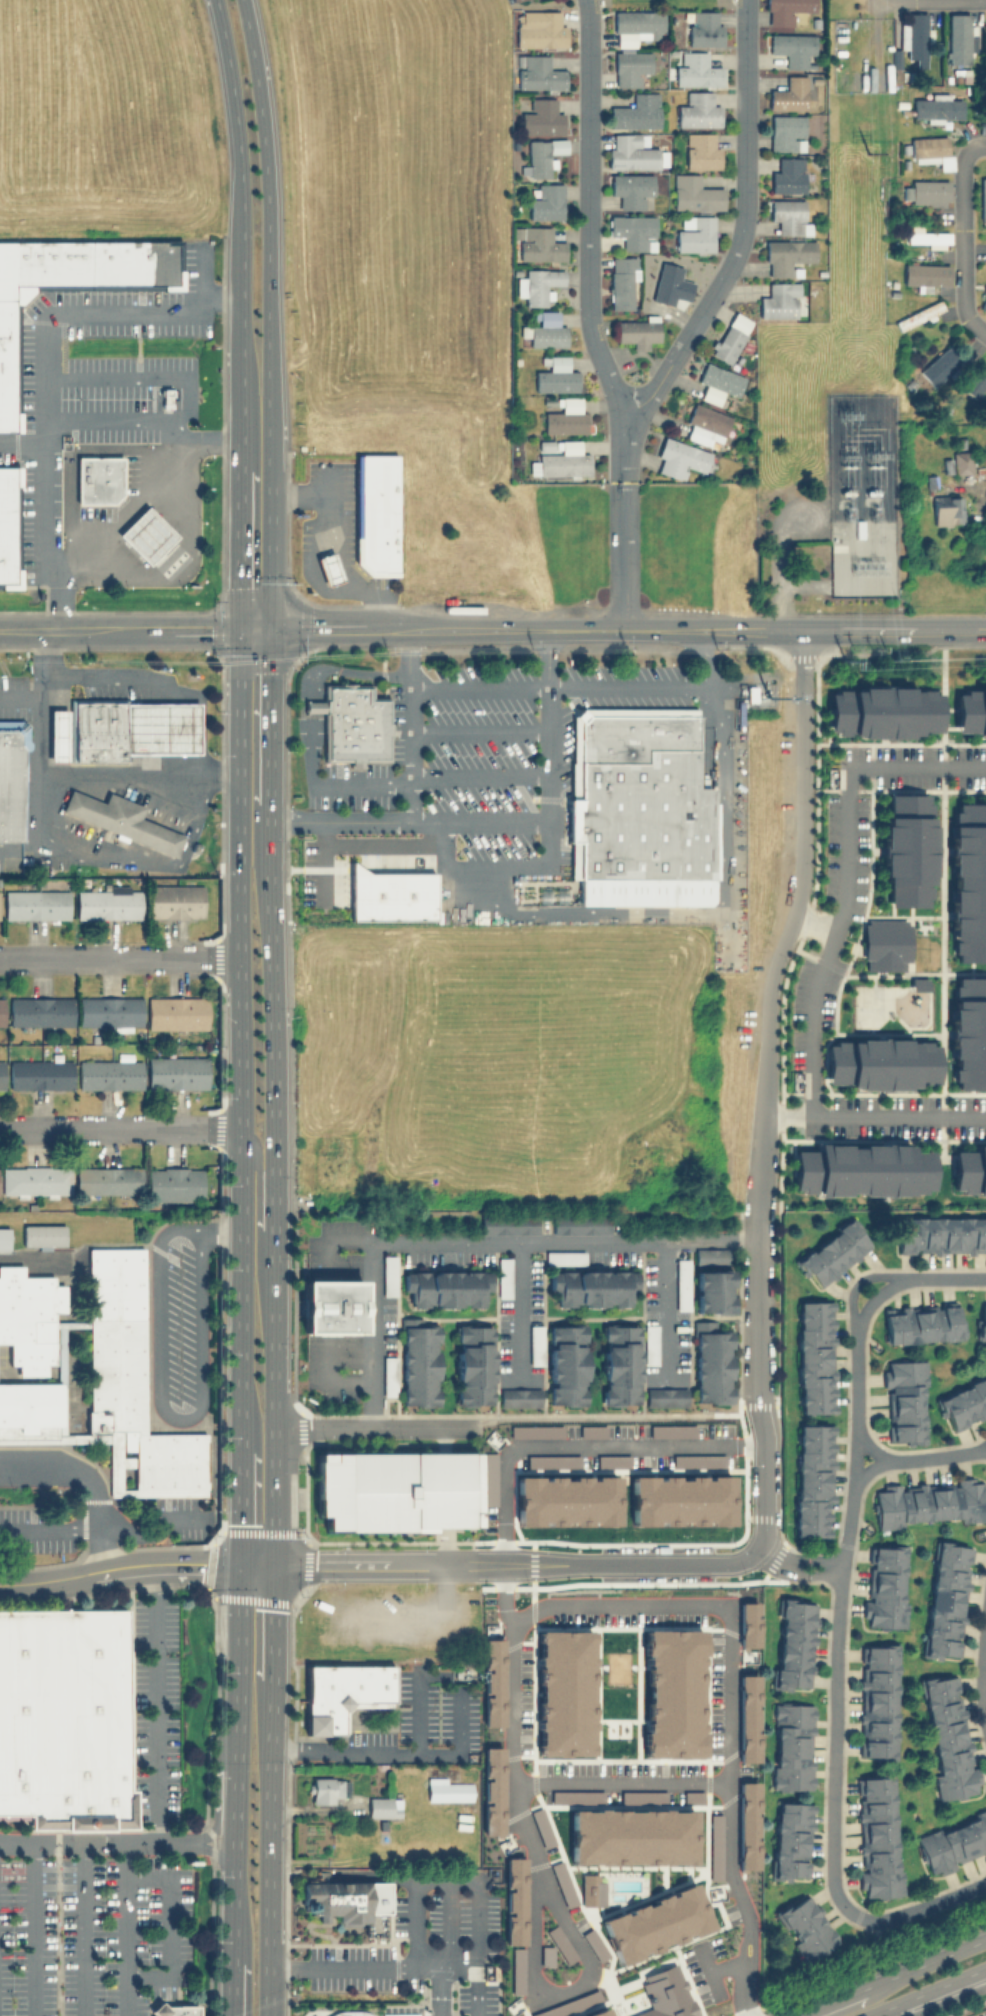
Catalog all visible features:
building: (512, 0)
building: (515, 0)
building: (789, 11)
building: (985, 21)
building: (637, 24)
building: (540, 28)
building: (704, 28)
building: (916, 34)
building: (961, 37)
building: (792, 48)
building: (896, 63)
building: (631, 65)
building: (697, 70)
building: (540, 72)
building: (961, 74)
building: (789, 93)
building: (937, 106)
building: (699, 109)
building: (636, 111)
building: (542, 116)
road: (236, 117)
building: (787, 131)
building: (701, 150)
building: (932, 150)
building: (631, 151)
building: (542, 155)
building: (788, 175)
building: (631, 188)
building: (930, 191)
building: (908, 192)
building: (695, 193)
building: (983, 196)
building: (547, 201)
building: (789, 215)
road: (268, 222)
road: (743, 229)
building: (633, 230)
building: (695, 233)
road: (962, 234)
building: (927, 236)
building: (541, 244)
building: (788, 254)
road: (202, 269)
building: (926, 274)
building: (622, 281)
building: (73, 284)
building: (538, 284)
building: (667, 285)
building: (985, 286)
road: (221, 294)
building: (780, 300)
building: (983, 303)
building: (936, 307)
road: (588, 316)
building: (913, 317)
building: (544, 330)
building: (638, 331)
building: (730, 337)
building: (941, 365)
road: (114, 375)
building: (556, 375)
building: (718, 382)
building: (976, 382)
building: (747, 384)
parking lot: (96, 388)
road: (44, 389)
building: (147, 405)
road: (185, 405)
building: (945, 409)
building: (565, 415)
road: (145, 421)
building: (706, 424)
road: (239, 433)
road: (22, 443)
building: (679, 457)
building: (561, 458)
building: (962, 462)
building: (947, 464)
building: (745, 476)
building: (98, 478)
building: (931, 481)
road: (331, 482)
power substation: (861, 495)
building: (947, 509)
building: (376, 513)
road: (119, 517)
building: (8, 526)
building: (859, 528)
building: (145, 535)
gas station: (145, 535)
road: (271, 537)
road: (335, 545)
building: (839, 547)
road: (173, 558)
road: (778, 559)
building: (328, 568)
gas station: (328, 568)
road: (800, 585)
road: (850, 626)
road: (560, 627)
road: (321, 628)
traffic signals: (271, 629)
road: (119, 630)
traffic signals: (238, 630)
road: (714, 658)
road: (39, 664)
road: (346, 670)
road: (113, 676)
road: (560, 688)
building: (750, 693)
road: (19, 698)
road: (313, 706)
building: (882, 711)
building: (971, 711)
building: (352, 723)
road: (407, 723)
building: (160, 728)
gas station: (160, 728)
road: (161, 728)
building: (96, 729)
road: (477, 730)
building: (57, 735)
road: (311, 748)
road: (161, 762)
road: (139, 771)
parking lot: (466, 771)
road: (39, 773)
building: (11, 776)
road: (477, 777)
road: (360, 784)
building: (638, 809)
road: (106, 813)
road: (478, 818)
road: (195, 819)
building: (122, 820)
road: (339, 820)
road: (549, 828)
road: (442, 832)
road: (349, 845)
building: (195, 847)
road: (19, 849)
building: (906, 850)
road: (67, 852)
road: (137, 859)
road: (316, 874)
road: (850, 877)
building: (968, 883)
building: (389, 895)
building: (175, 901)
building: (107, 903)
building: (35, 904)
road: (701, 914)
road: (789, 918)
road: (813, 926)
building: (885, 944)
road: (120, 957)
building: (917, 984)
park: (880, 1009)
building: (40, 1011)
building: (1, 1013)
building: (108, 1013)
building: (176, 1013)
road: (241, 1027)
building: (968, 1033)
building: (880, 1063)
building: (176, 1072)
building: (1, 1073)
building: (40, 1074)
building: (109, 1074)
road: (785, 1115)
road: (897, 1115)
road: (121, 1126)
road: (262, 1165)
building: (861, 1169)
building: (970, 1171)
building: (106, 1179)
building: (34, 1180)
building: (173, 1183)
building: (508, 1223)
building: (580, 1223)
road: (210, 1227)
building: (939, 1233)
building: (42, 1235)
building: (4, 1238)
road: (543, 1240)
building: (831, 1251)
building: (711, 1255)
building: (564, 1256)
building: (388, 1273)
building: (503, 1277)
road: (859, 1281)
building: (682, 1283)
building: (592, 1285)
building: (445, 1286)
building: (713, 1289)
building: (331, 1306)
road: (274, 1308)
road: (665, 1309)
road: (519, 1311)
road: (760, 1312)
building: (981, 1321)
building: (921, 1322)
parking lot: (179, 1324)
road: (372, 1335)
building: (535, 1343)
building: (650, 1343)
building: (813, 1355)
building: (418, 1361)
building: (619, 1362)
building: (711, 1362)
building: (472, 1363)
building: (565, 1363)
building: (92, 1375)
building: (388, 1375)
road: (201, 1396)
building: (519, 1396)
building: (666, 1396)
building: (904, 1398)
building: (963, 1401)
road: (378, 1426)
road: (979, 1447)
road: (874, 1450)
road: (579, 1454)
road: (939, 1457)
road: (70, 1463)
road: (870, 1471)
building: (811, 1480)
building: (395, 1490)
building: (573, 1493)
building: (686, 1493)
road: (240, 1494)
road: (764, 1496)
building: (927, 1502)
parking lot: (186, 1517)
road: (151, 1526)
road: (50, 1527)
parking lot: (27, 1532)
road: (103, 1547)
road: (813, 1560)
road: (129, 1563)
road: (196, 1563)
traffic signals: (238, 1564)
road: (501, 1564)
traffic signals: (275, 1565)
road: (811, 1574)
road: (53, 1578)
building: (883, 1587)
building: (945, 1599)
road: (697, 1601)
road: (839, 1620)
road: (417, 1633)
building: (791, 1643)
road: (237, 1664)
road: (984, 1682)
building: (340, 1692)
building: (879, 1701)
road: (154, 1703)
parking lot: (154, 1708)
road: (418, 1708)
building: (64, 1719)
building: (947, 1736)
building: (795, 1747)
road: (397, 1751)
road: (236, 1772)
building: (325, 1789)
building: (447, 1789)
road: (727, 1793)
building: (382, 1806)
road: (218, 1817)
building: (638, 1828)
building: (879, 1838)
building: (797, 1839)
road: (94, 1843)
building: (952, 1843)
road: (215, 1852)
road: (534, 1864)
road: (235, 1871)
road: (460, 1878)
building: (334, 1900)
building: (661, 1915)
building: (805, 1917)
road: (167, 1925)
building: (335, 1926)
building: (369, 1926)
road: (31, 1929)
road: (79, 1929)
road: (124, 1929)
parking lot: (92, 1934)
parking lot: (423, 1957)
road: (924, 1963)
road: (378, 1965)
road: (719, 1966)
road: (234, 1977)
road: (476, 1985)
building: (669, 1991)
road: (924, 1991)
road: (268, 2002)
road: (828, 2002)
road: (233, 2003)
building: (173, 2009)
road: (337, 2012)
parking lot: (980, 2013)
road: (322, 2014)

